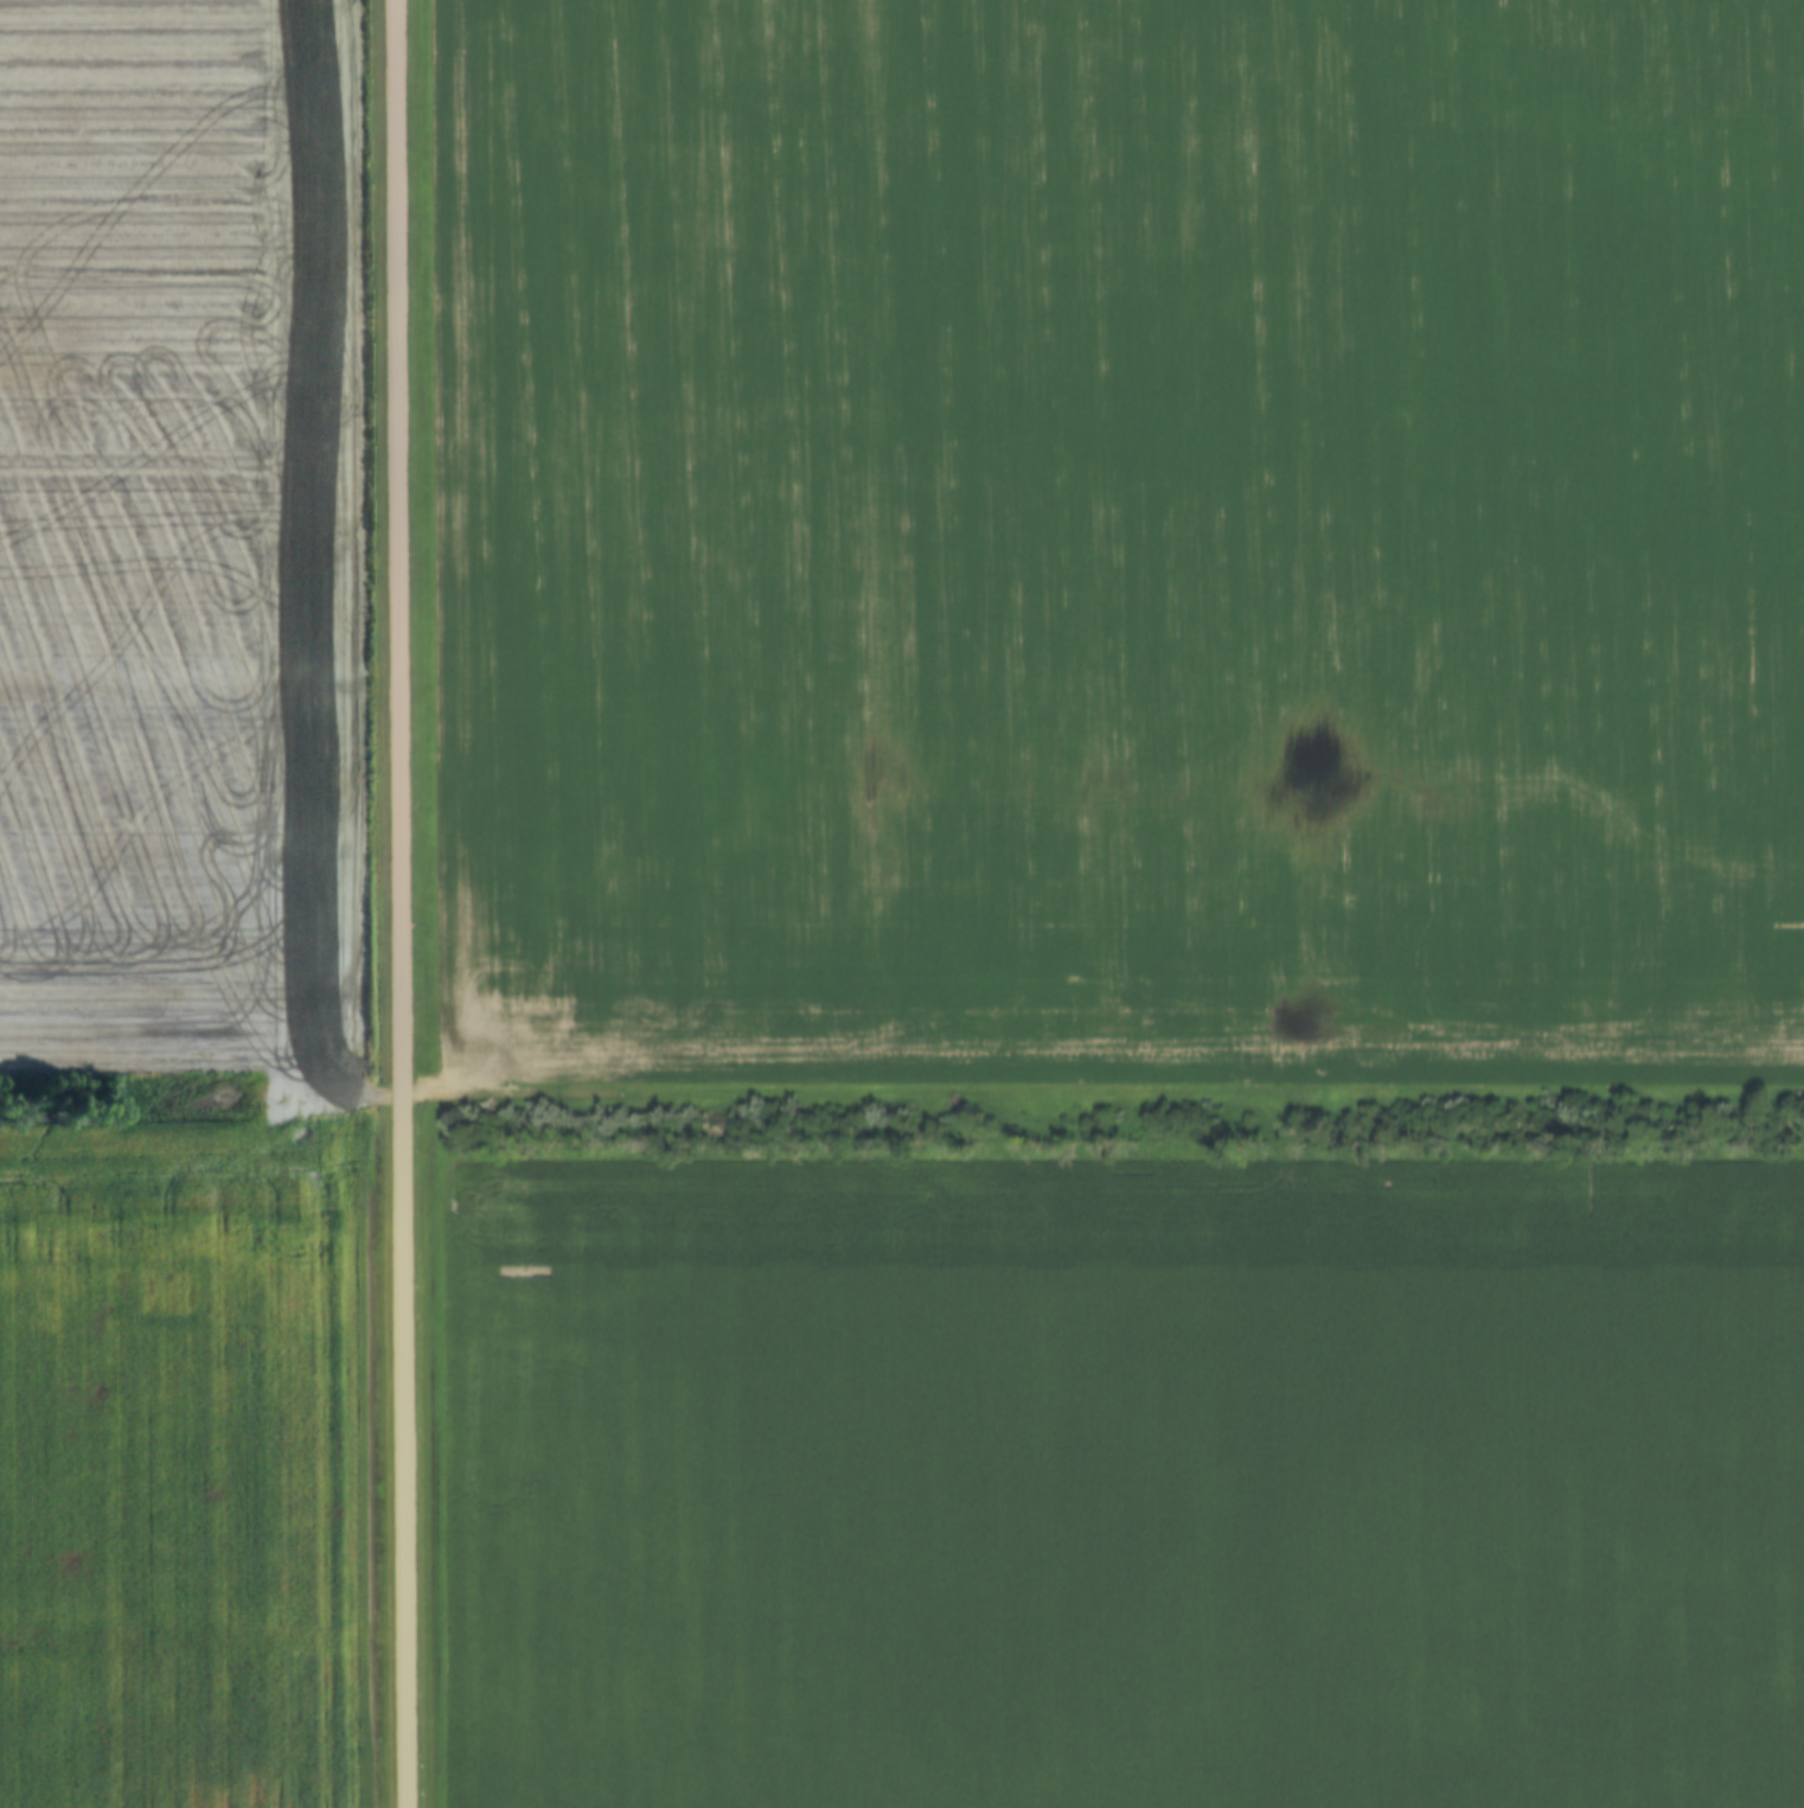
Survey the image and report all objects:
road: (410, 903)
road: (866, 1097)

